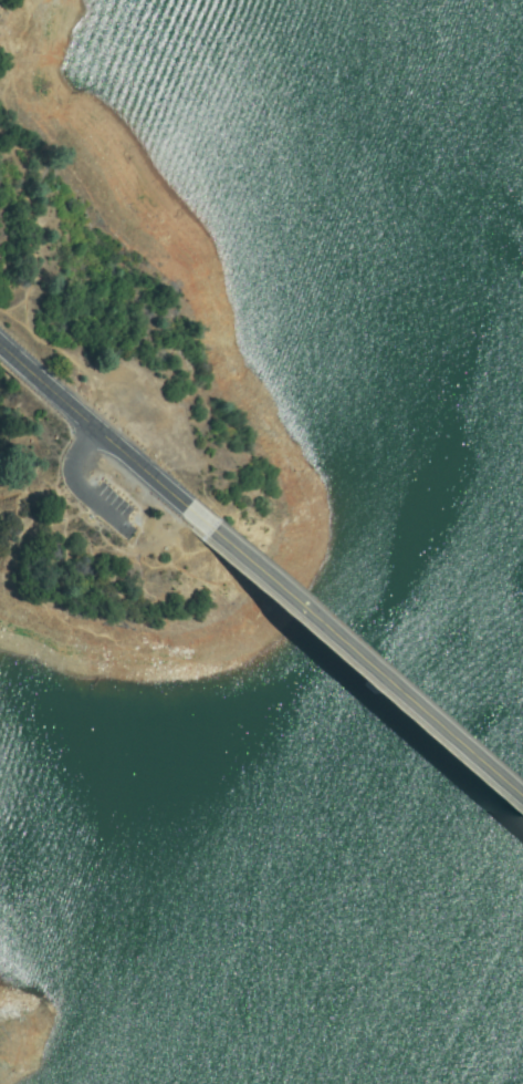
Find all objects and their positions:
road: (108, 434)
road: (62, 475)
parking lot: (97, 500)
road: (370, 658)

